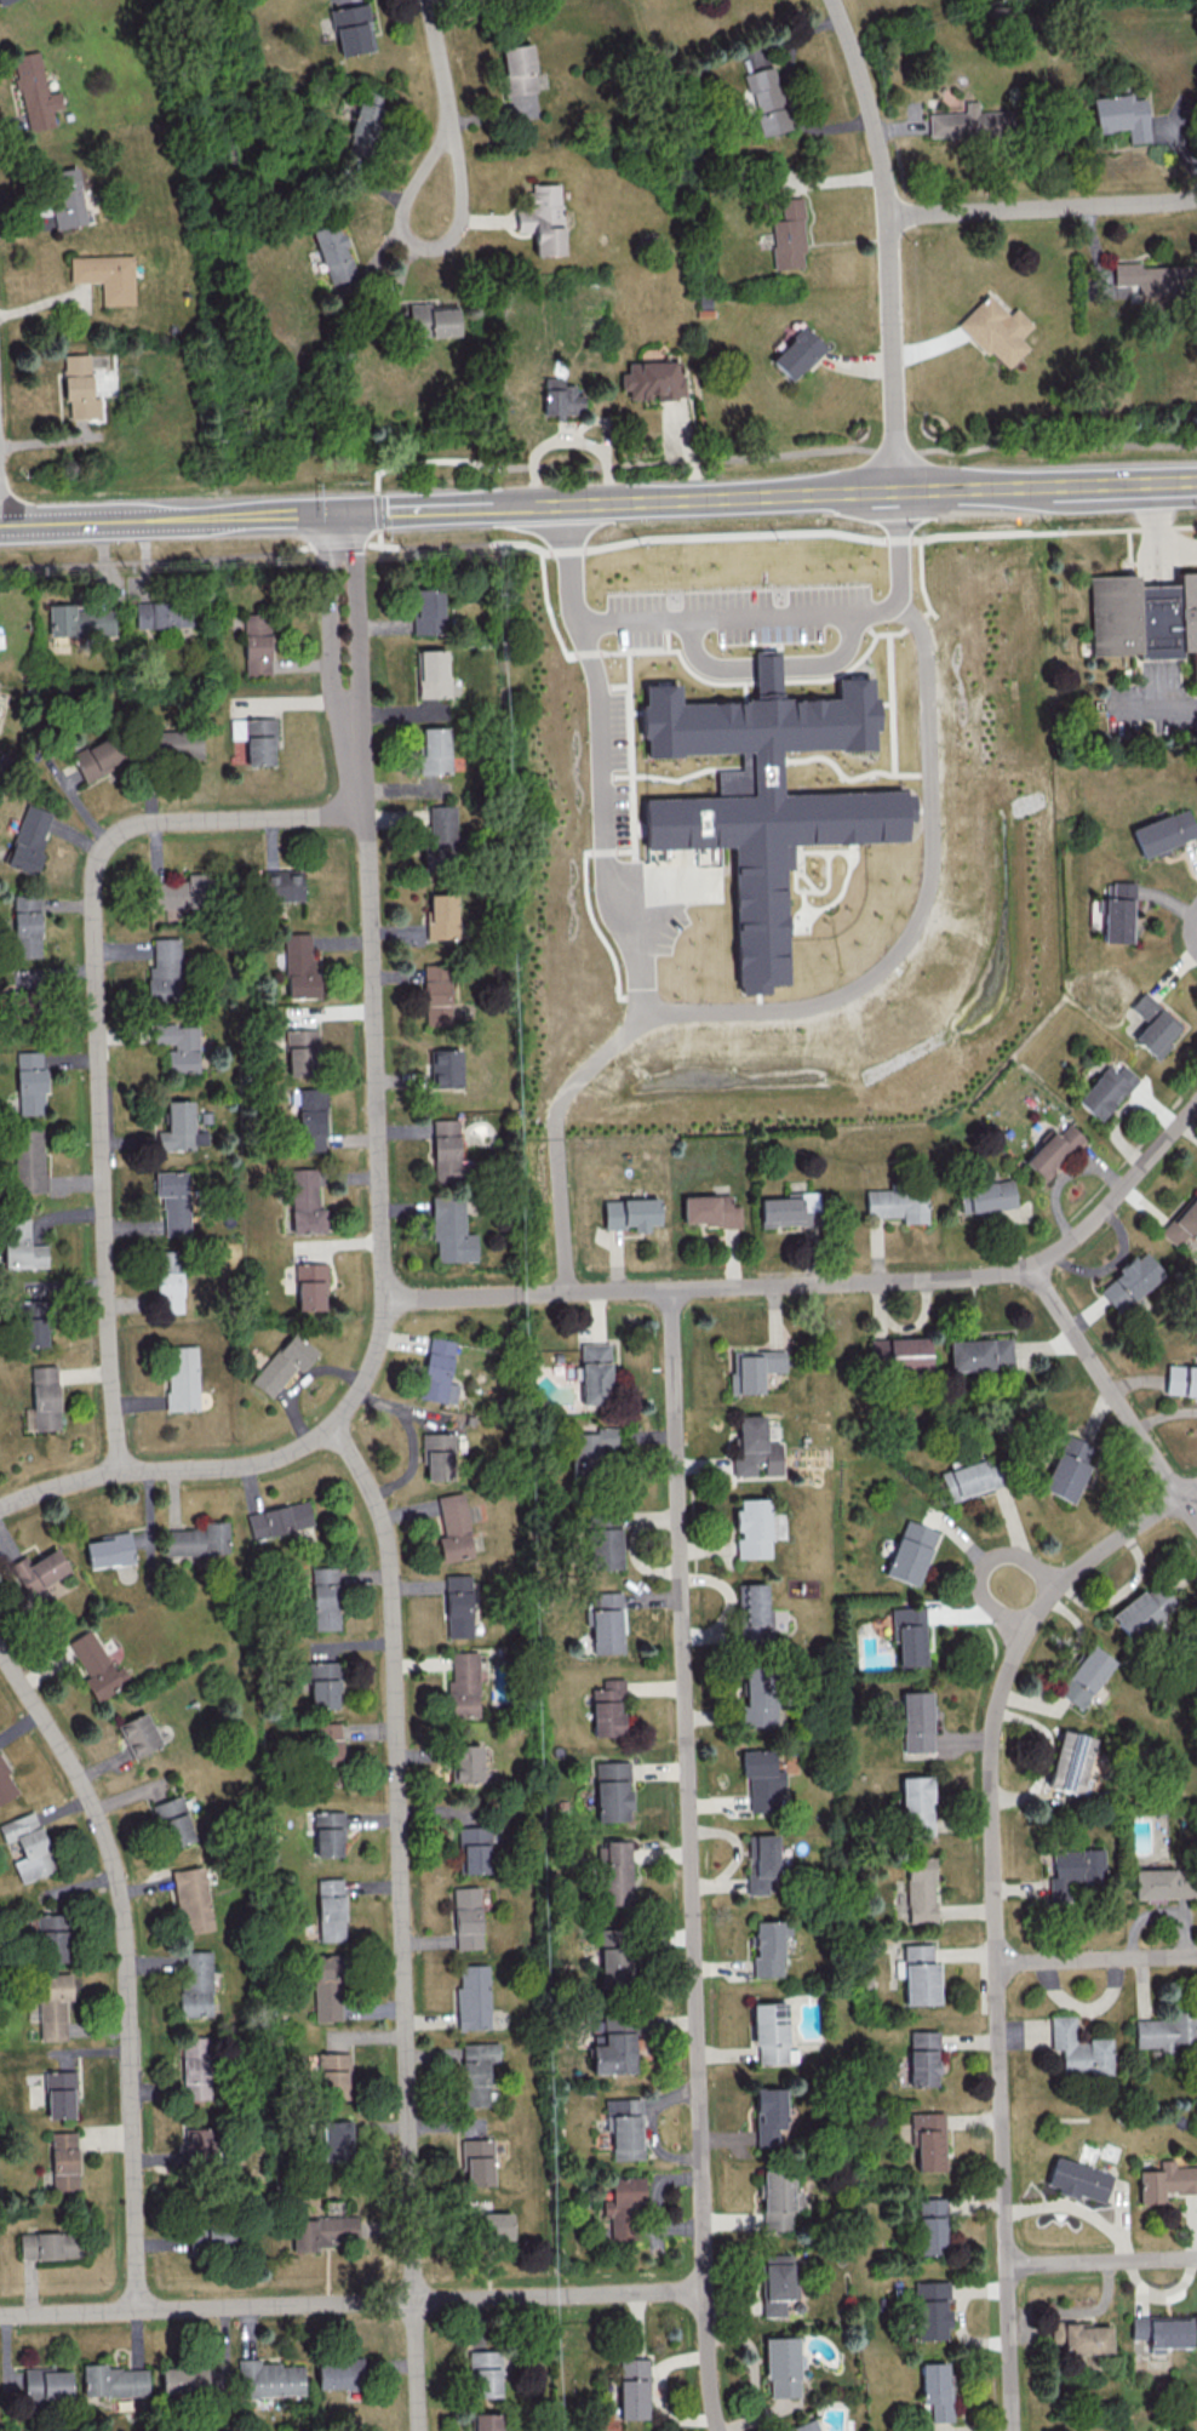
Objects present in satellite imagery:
building: (2, 1)
building: (351, 28)
road: (441, 69)
building: (517, 69)
building: (34, 91)
building: (767, 99)
building: (1121, 115)
building: (363, 122)
building: (968, 122)
building: (65, 196)
road: (1043, 207)
building: (543, 218)
building: (787, 235)
road: (889, 241)
road: (420, 246)
building: (333, 252)
building: (105, 275)
building: (1151, 278)
building: (433, 320)
building: (996, 330)
building: (796, 351)
building: (651, 379)
building: (79, 387)
building: (560, 397)
road: (1054, 441)
road: (894, 451)
road: (612, 462)
road: (1047, 486)
road: (728, 496)
road: (442, 507)
traffic signals: (338, 511)
road: (376, 511)
road: (161, 517)
road: (1053, 530)
road: (733, 533)
road: (1152, 534)
road: (378, 537)
road: (898, 538)
road: (336, 544)
road: (457, 544)
road: (565, 550)
road: (153, 559)
building: (132, 582)
road: (928, 608)
building: (426, 611)
building: (157, 614)
road: (355, 614)
road: (327, 618)
road: (733, 618)
building: (1144, 620)
building: (79, 622)
building: (256, 642)
road: (566, 653)
road: (832, 659)
road: (706, 662)
road: (767, 667)
building: (431, 673)
road: (889, 703)
road: (1153, 705)
building: (254, 738)
building: (174, 743)
building: (434, 750)
building: (96, 757)
building: (767, 797)
building: (1162, 831)
building: (440, 833)
building: (28, 840)
building: (281, 885)
building: (179, 892)
building: (1117, 911)
building: (441, 915)
building: (25, 925)
road: (1189, 927)
building: (299, 966)
building: (164, 967)
building: (436, 994)
road: (766, 1009)
building: (1153, 1024)
road: (97, 1025)
building: (178, 1045)
building: (300, 1051)
building: (443, 1066)
road: (589, 1068)
building: (29, 1082)
building: (1105, 1089)
building: (310, 1119)
building: (179, 1127)
building: (445, 1148)
building: (1052, 1150)
building: (28, 1160)
building: (986, 1196)
building: (172, 1201)
building: (304, 1201)
building: (897, 1203)
building: (709, 1209)
building: (789, 1209)
building: (630, 1213)
road: (560, 1214)
building: (1182, 1222)
building: (449, 1230)
building: (21, 1245)
road: (383, 1253)
building: (168, 1281)
building: (1129, 1281)
road: (824, 1283)
building: (309, 1286)
building: (31, 1332)
building: (899, 1352)
building: (979, 1354)
building: (281, 1363)
building: (754, 1368)
building: (436, 1371)
building: (594, 1373)
building: (181, 1377)
building: (1181, 1380)
road: (1112, 1392)
road: (409, 1436)
building: (754, 1447)
building: (589, 1448)
building: (436, 1455)
building: (1067, 1468)
building: (969, 1480)
building: (279, 1518)
building: (453, 1527)
building: (752, 1527)
building: (196, 1539)
building: (602, 1541)
building: (107, 1550)
building: (910, 1552)
road: (981, 1567)
building: (36, 1569)
building: (325, 1597)
building: (457, 1605)
building: (1142, 1609)
building: (754, 1613)
building: (606, 1621)
building: (907, 1635)
building: (94, 1665)
building: (1083, 1675)
building: (322, 1684)
building: (462, 1686)
building: (758, 1698)
building: (607, 1708)
building: (915, 1721)
building: (137, 1734)
building: (327, 1741)
building: (465, 1762)
building: (1070, 1762)
building: (761, 1780)
building: (6, 1784)
building: (611, 1790)
building: (915, 1804)
building: (173, 1820)
building: (328, 1834)
building: (27, 1846)
building: (474, 1848)
road: (691, 1860)
building: (761, 1863)
building: (1072, 1870)
building: (615, 1872)
building: (1162, 1882)
building: (918, 1888)
building: (191, 1899)
building: (330, 1909)
road: (992, 1914)
building: (466, 1917)
road: (402, 1921)
building: (50, 1937)
building: (767, 1946)
road: (1095, 1958)
road: (128, 1963)
building: (613, 1966)
building: (916, 1974)
building: (195, 1983)
building: (327, 1986)
building: (472, 1997)
building: (52, 2004)
building: (1164, 2031)
building: (771, 2032)
building: (612, 2046)
building: (1077, 2048)
building: (195, 2066)
building: (476, 2071)
building: (333, 2075)
building: (59, 2093)
building: (768, 2116)
building: (624, 2127)
building: (337, 2139)
building: (927, 2139)
building: (199, 2143)
building: (477, 2161)
building: (63, 2162)
building: (1077, 2180)
building: (1165, 2181)
building: (777, 2198)
building: (623, 2206)
building: (497, 2225)
building: (929, 2225)
building: (322, 2231)
building: (208, 2235)
building: (48, 2244)
road: (1101, 2260)
building: (777, 2282)
road: (353, 2303)
building: (929, 2309)
building: (1162, 2330)
building: (1079, 2336)
building: (780, 2364)
building: (338, 2373)
building: (485, 2373)
building: (269, 2378)
building: (190, 2379)
building: (113, 2380)
building: (46, 2383)
building: (632, 2387)
building: (935, 2389)
building: (486, 2421)
building: (804, 2426)

